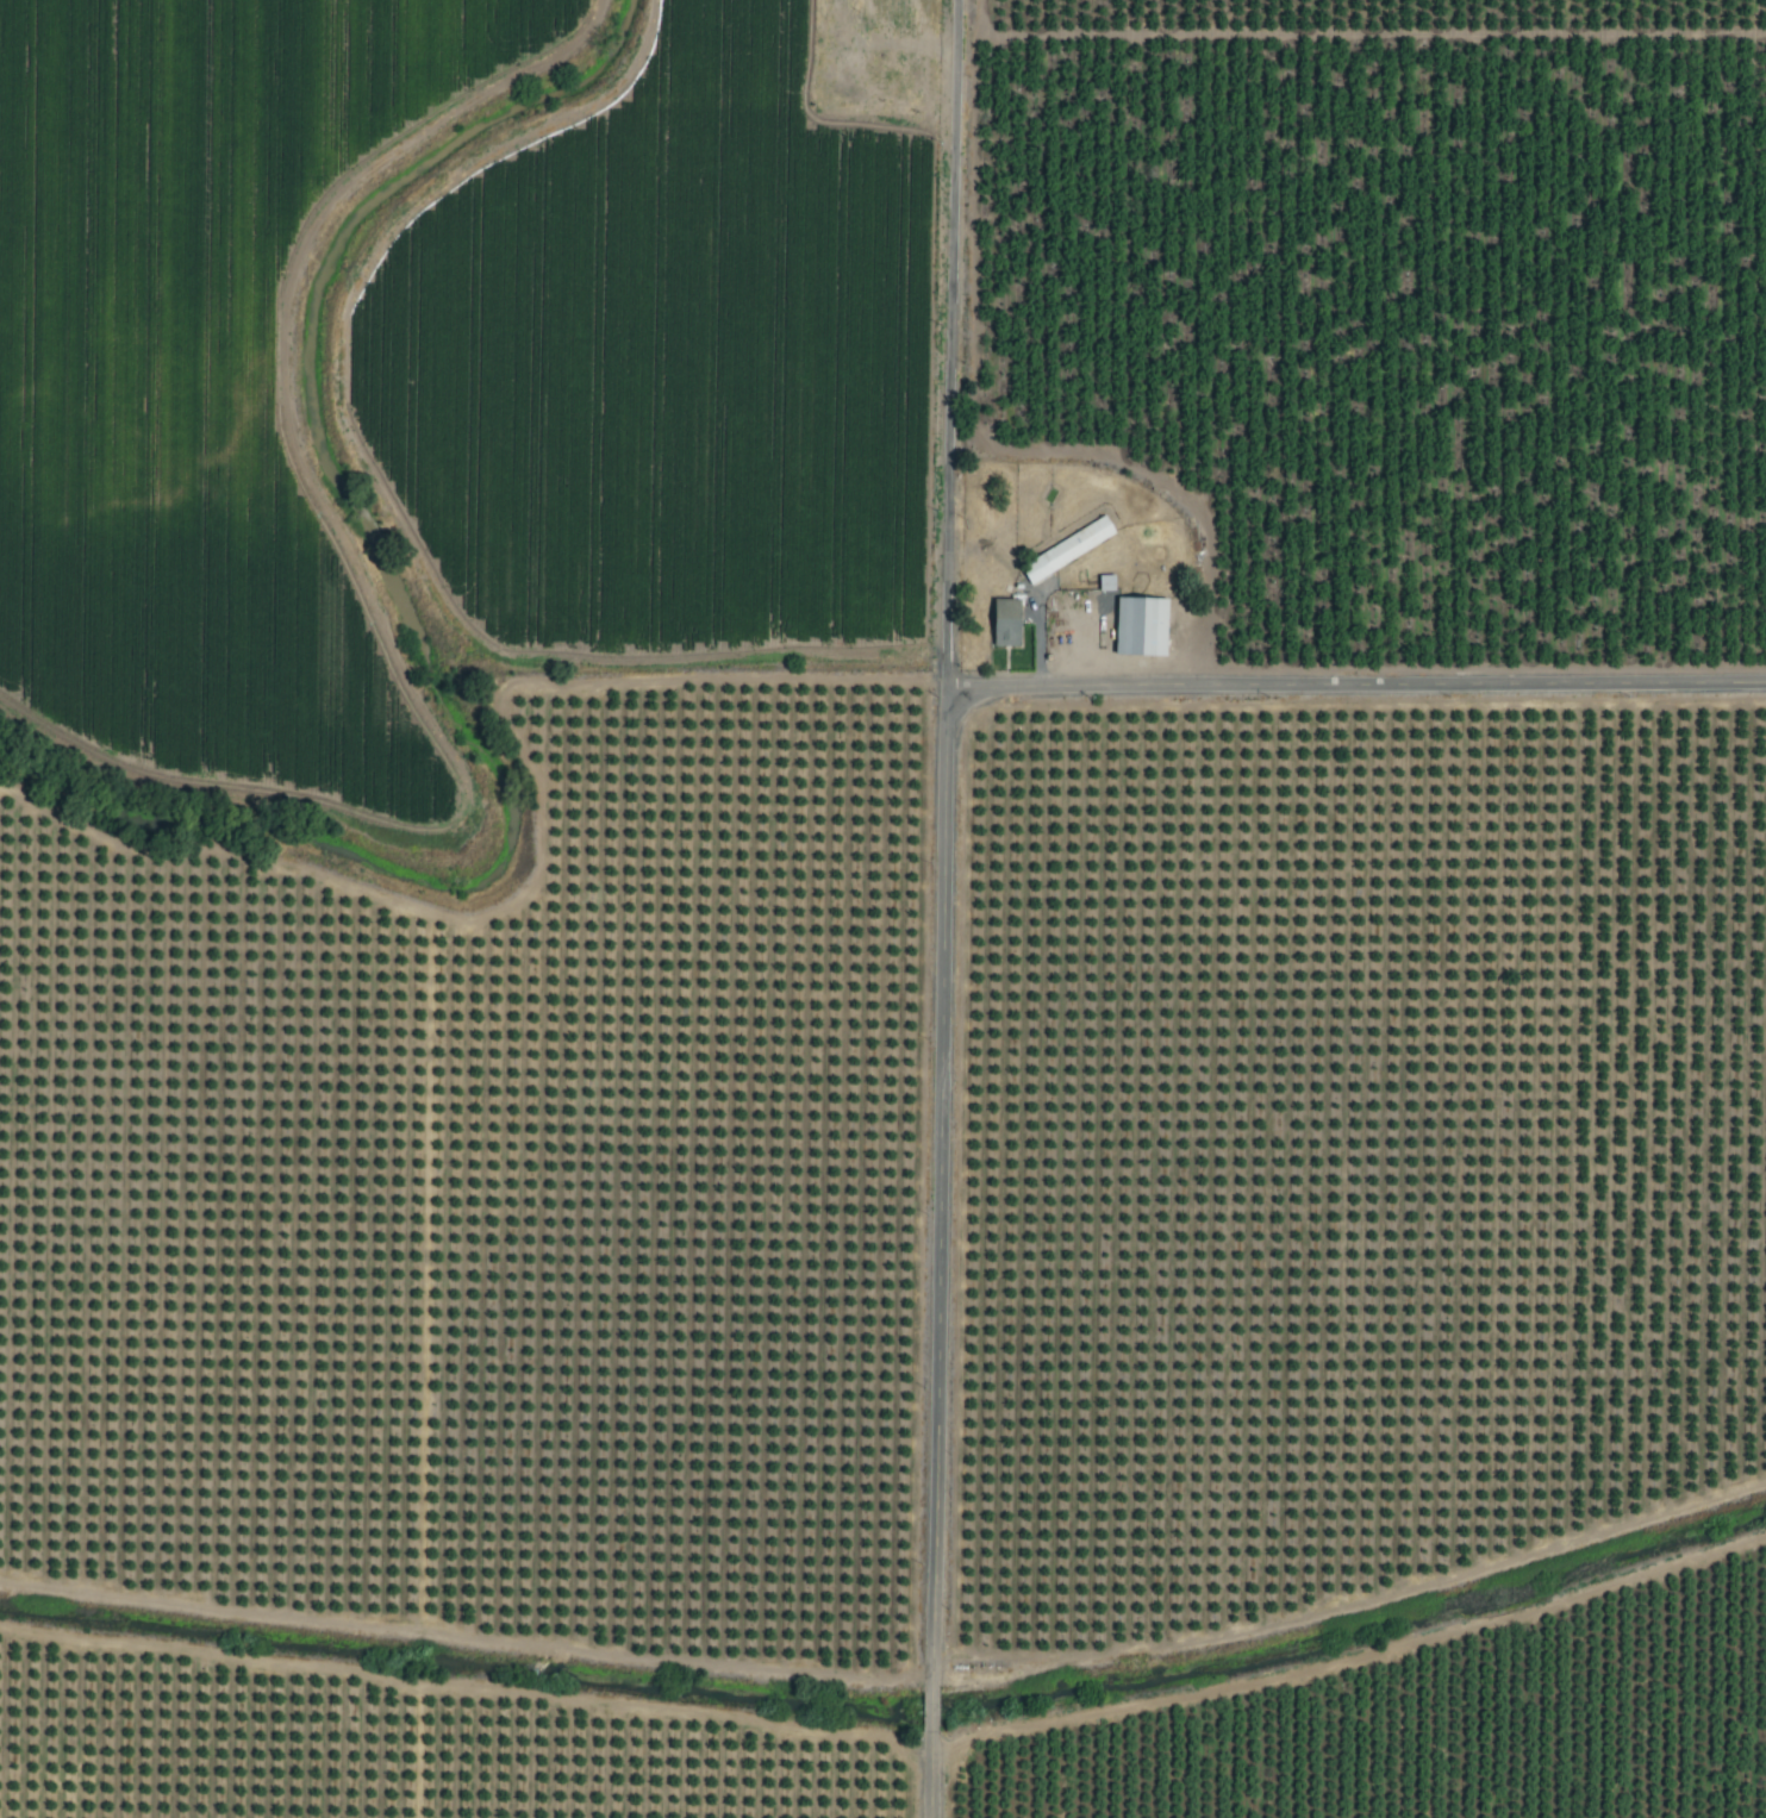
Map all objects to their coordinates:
building: (1069, 551)
building: (1010, 623)
building: (1147, 627)
road: (1356, 688)
road: (943, 841)
road: (929, 1712)
road: (928, 1779)

